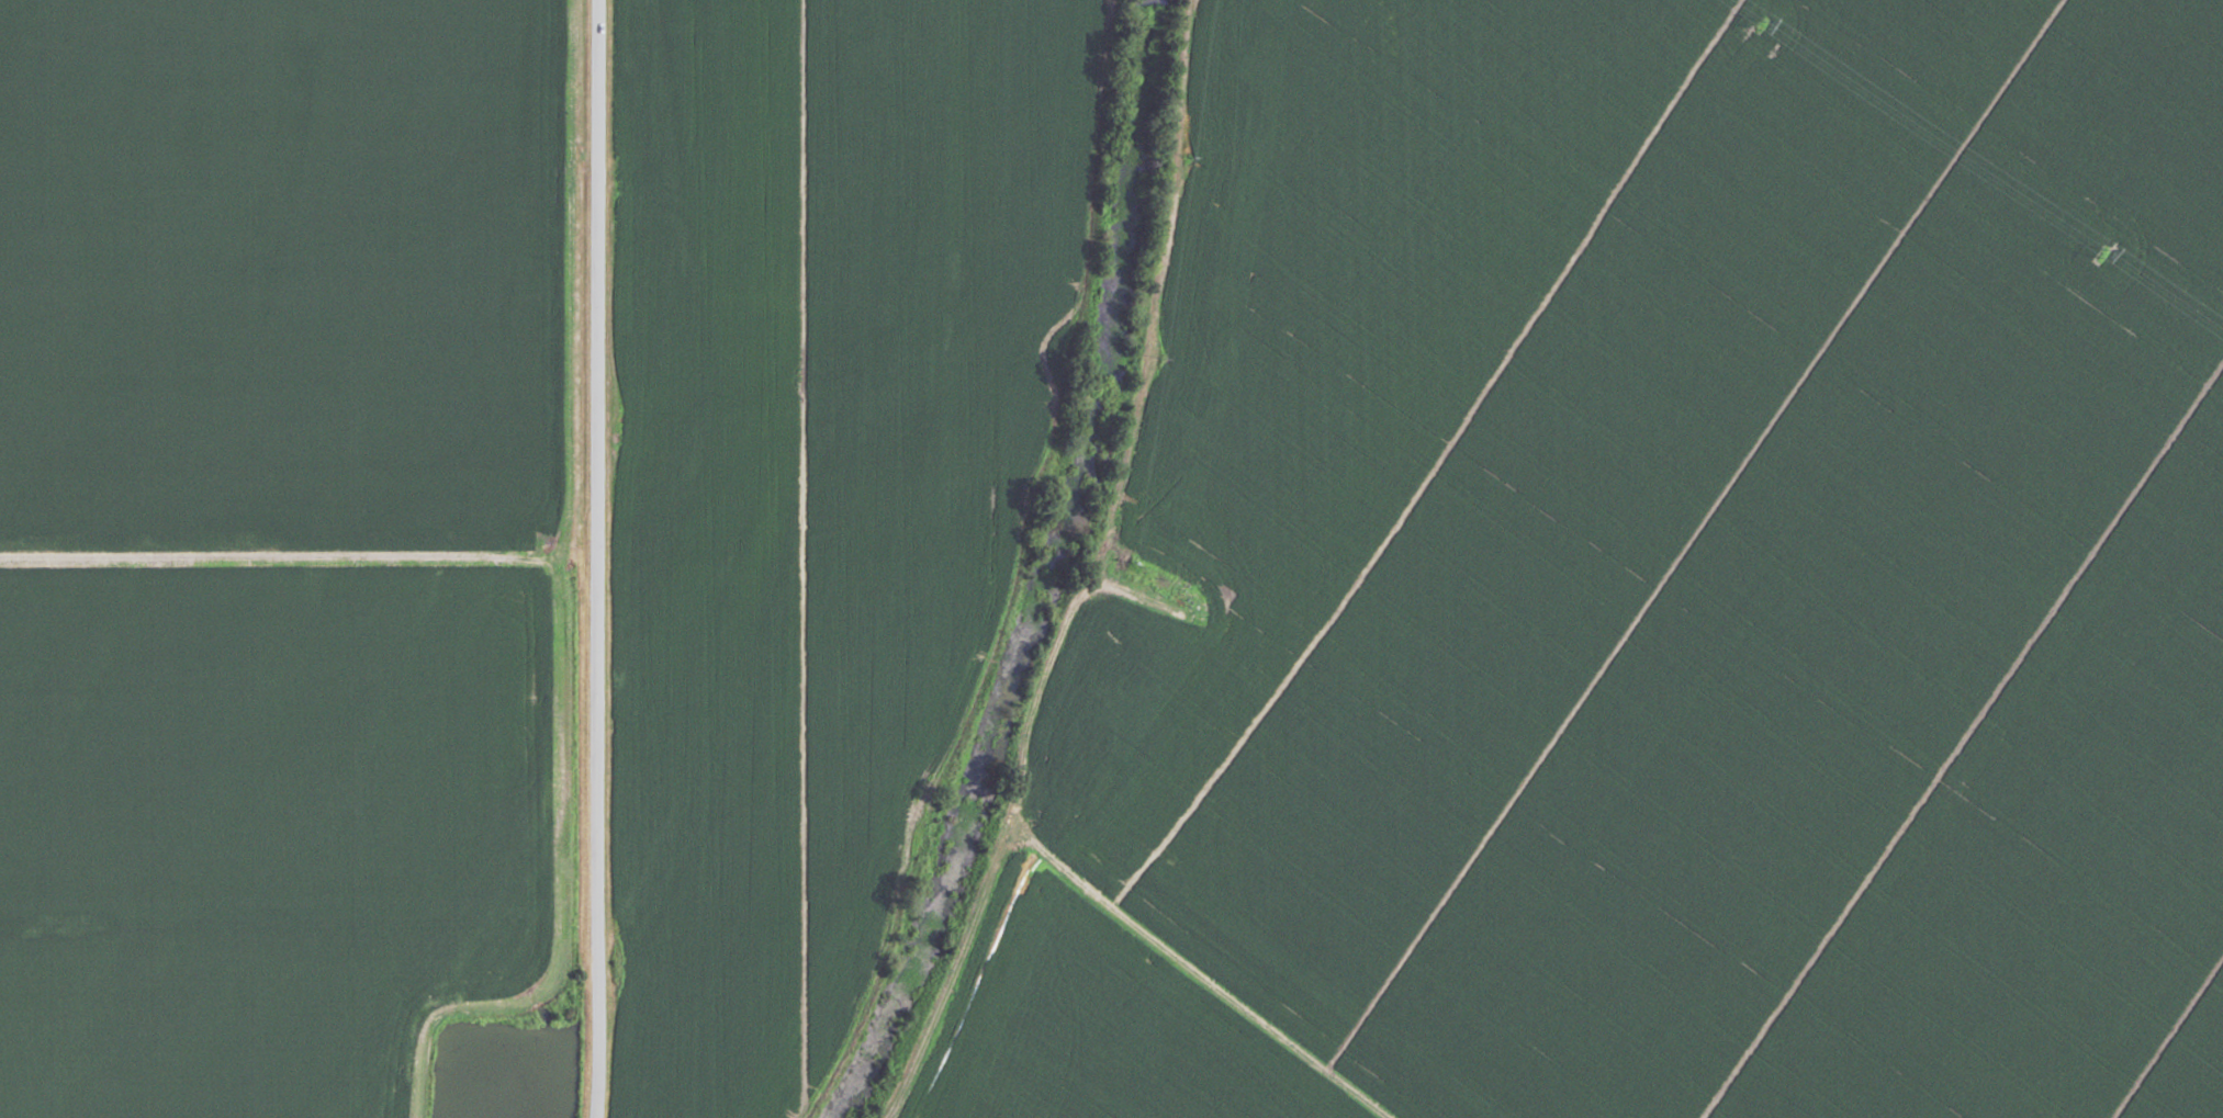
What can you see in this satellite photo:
power tower: (1763, 22)
power tower: (2101, 250)
road: (588, 558)

